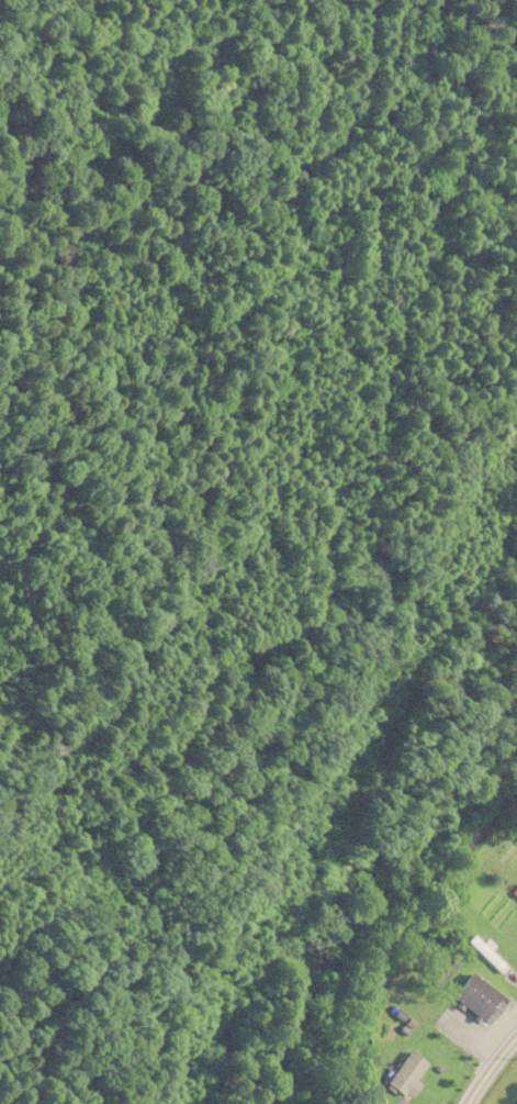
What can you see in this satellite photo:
building: (515, 895)
building: (476, 1000)
road: (491, 1068)
building: (403, 1074)

